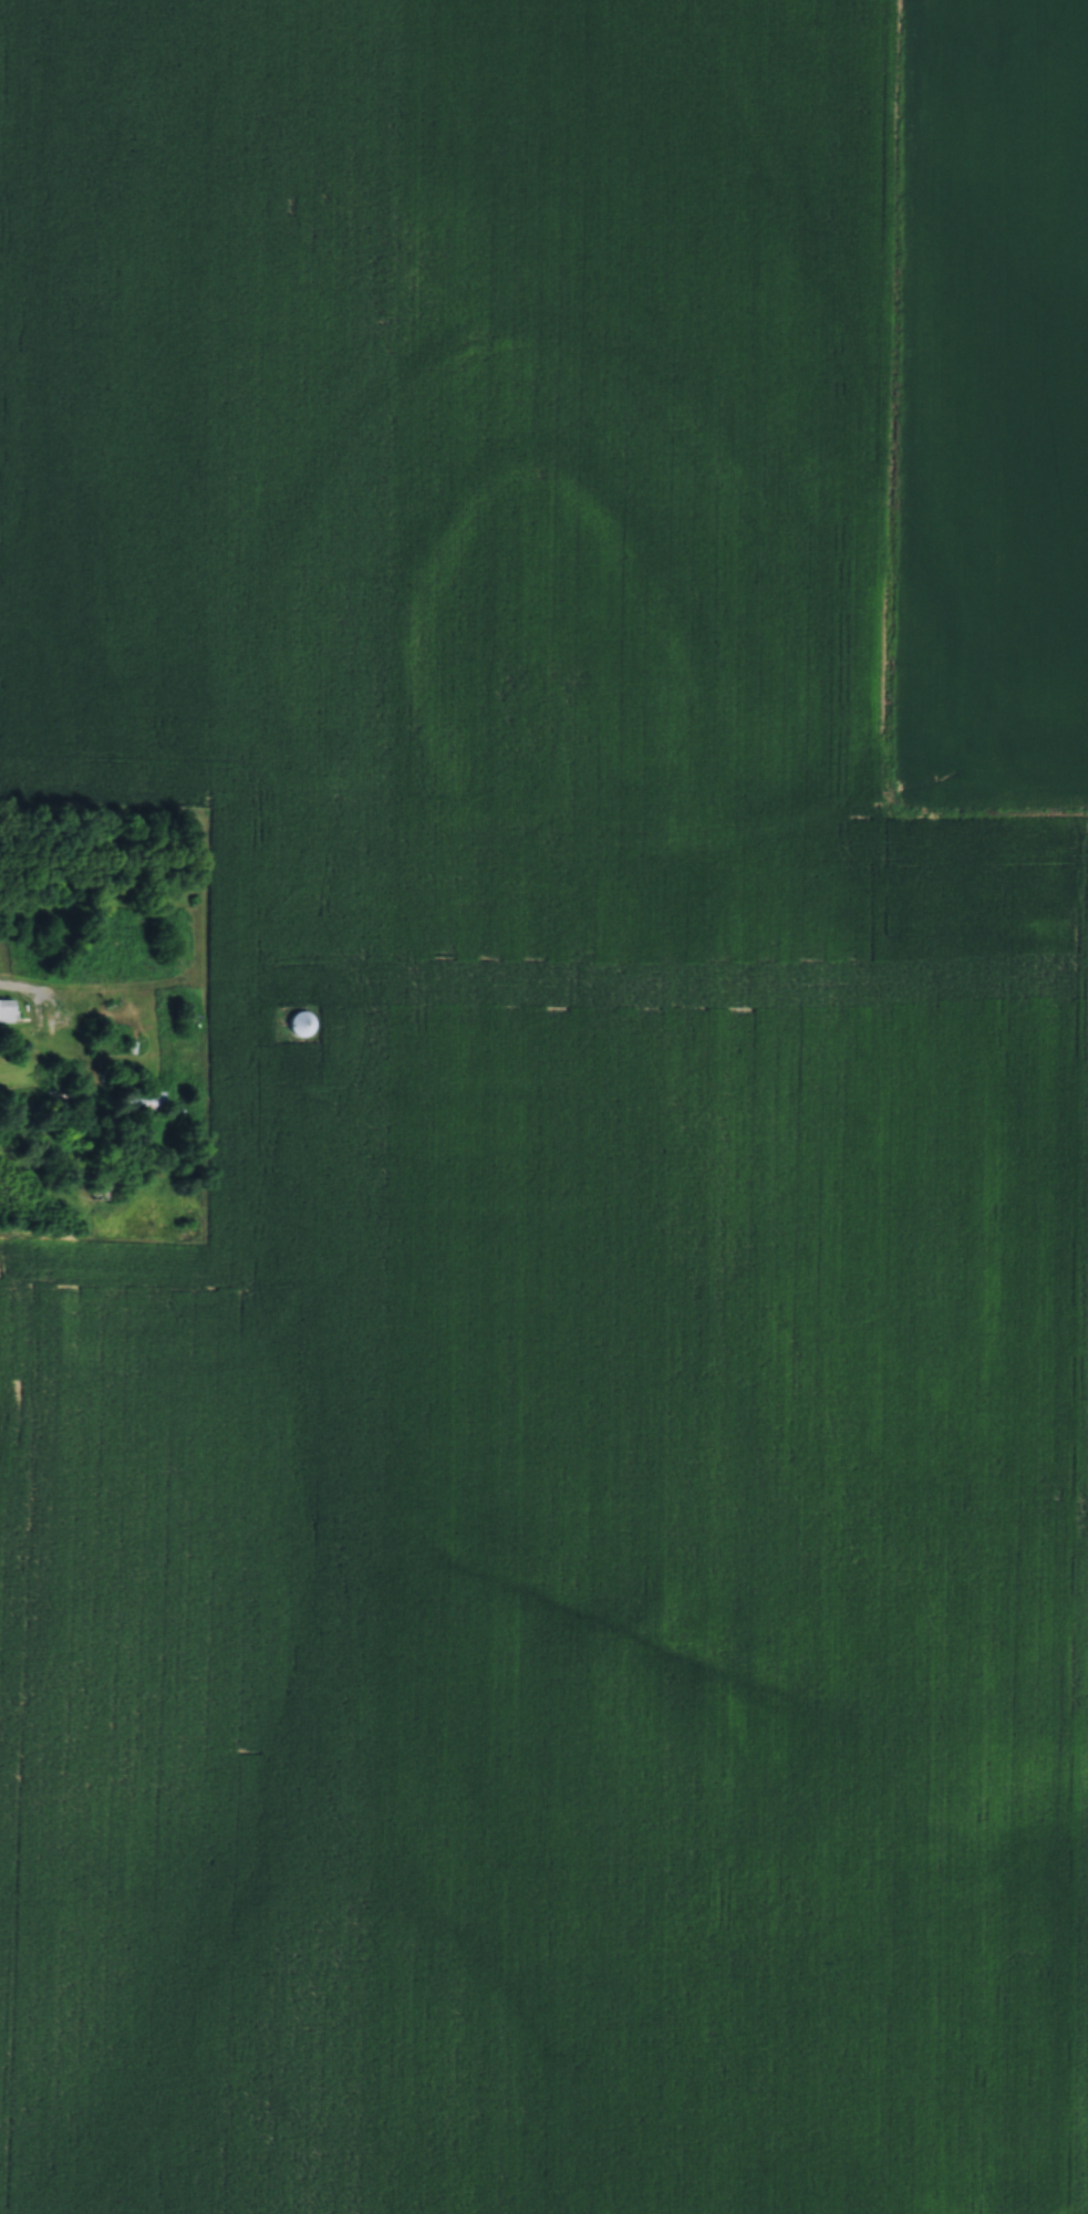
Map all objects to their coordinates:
road: (30, 996)
building: (4, 1008)
building: (143, 1099)

